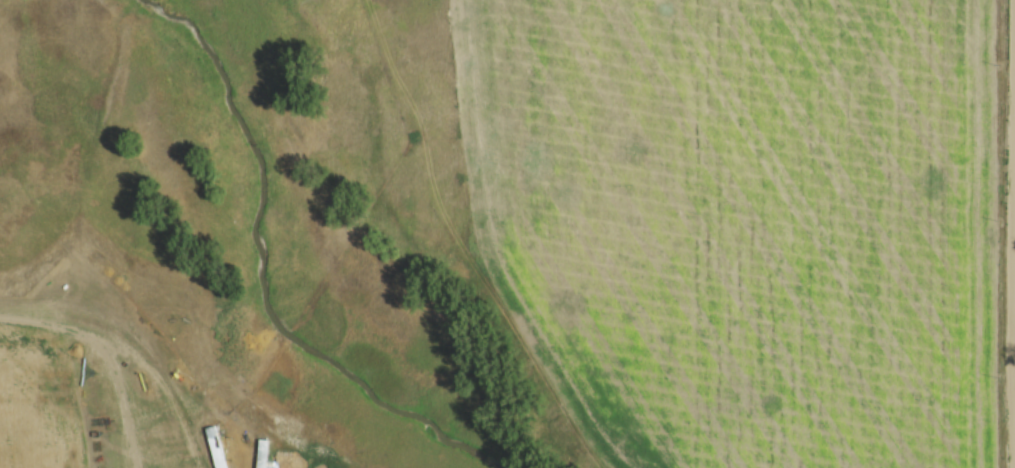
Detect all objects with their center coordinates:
crop: (746, 222)
crop: (72, 392)
building: (218, 447)
building: (263, 453)

